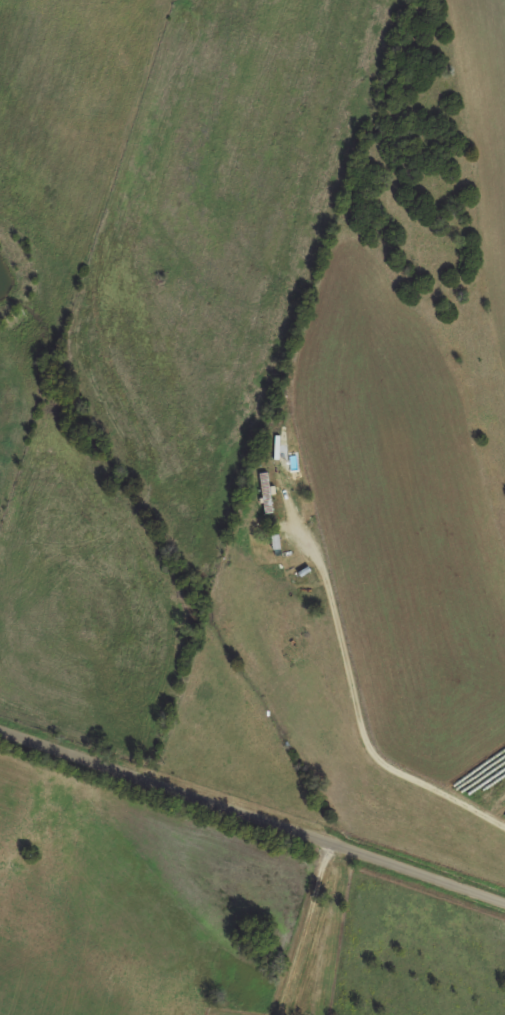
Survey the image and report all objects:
building: (265, 492)
road: (252, 817)

